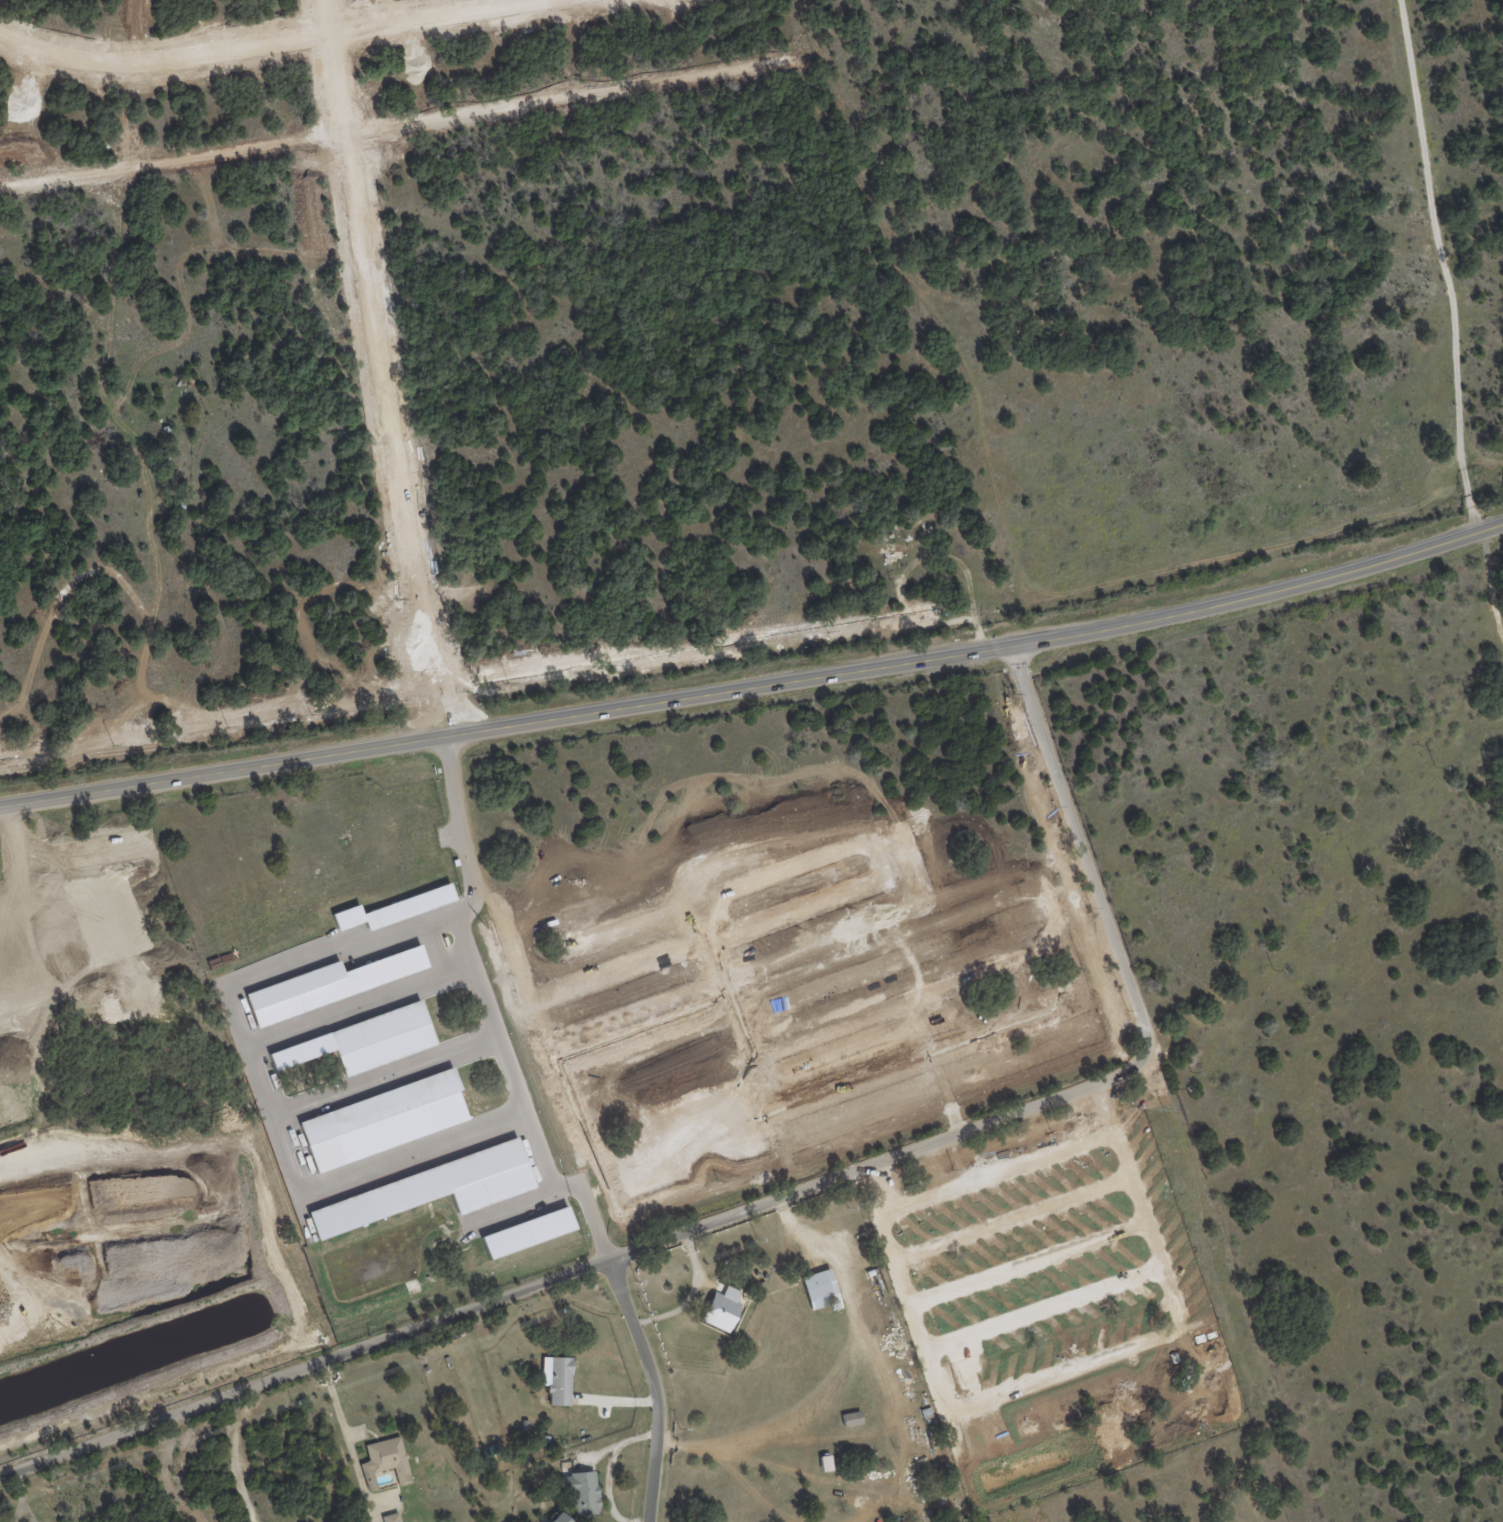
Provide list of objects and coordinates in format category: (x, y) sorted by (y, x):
road: (230, 36)
road: (1450, 264)
road: (375, 326)
building: (882, 552)
road: (1276, 590)
road: (448, 691)
road: (425, 695)
road: (522, 724)
building: (394, 909)
building: (331, 984)
road: (490, 1009)
building: (363, 1041)
road: (260, 1090)
building: (383, 1120)
building: (430, 1189)
road: (780, 1198)
building: (527, 1232)
building: (819, 1289)
road: (686, 1291)
building: (722, 1308)
building: (557, 1379)
road: (656, 1386)
building: (851, 1418)
road: (346, 1432)
building: (386, 1458)
building: (825, 1463)
building: (582, 1493)
road: (21, 1496)
road: (29, 1511)
building: (391, 1517)
building: (559, 1518)

